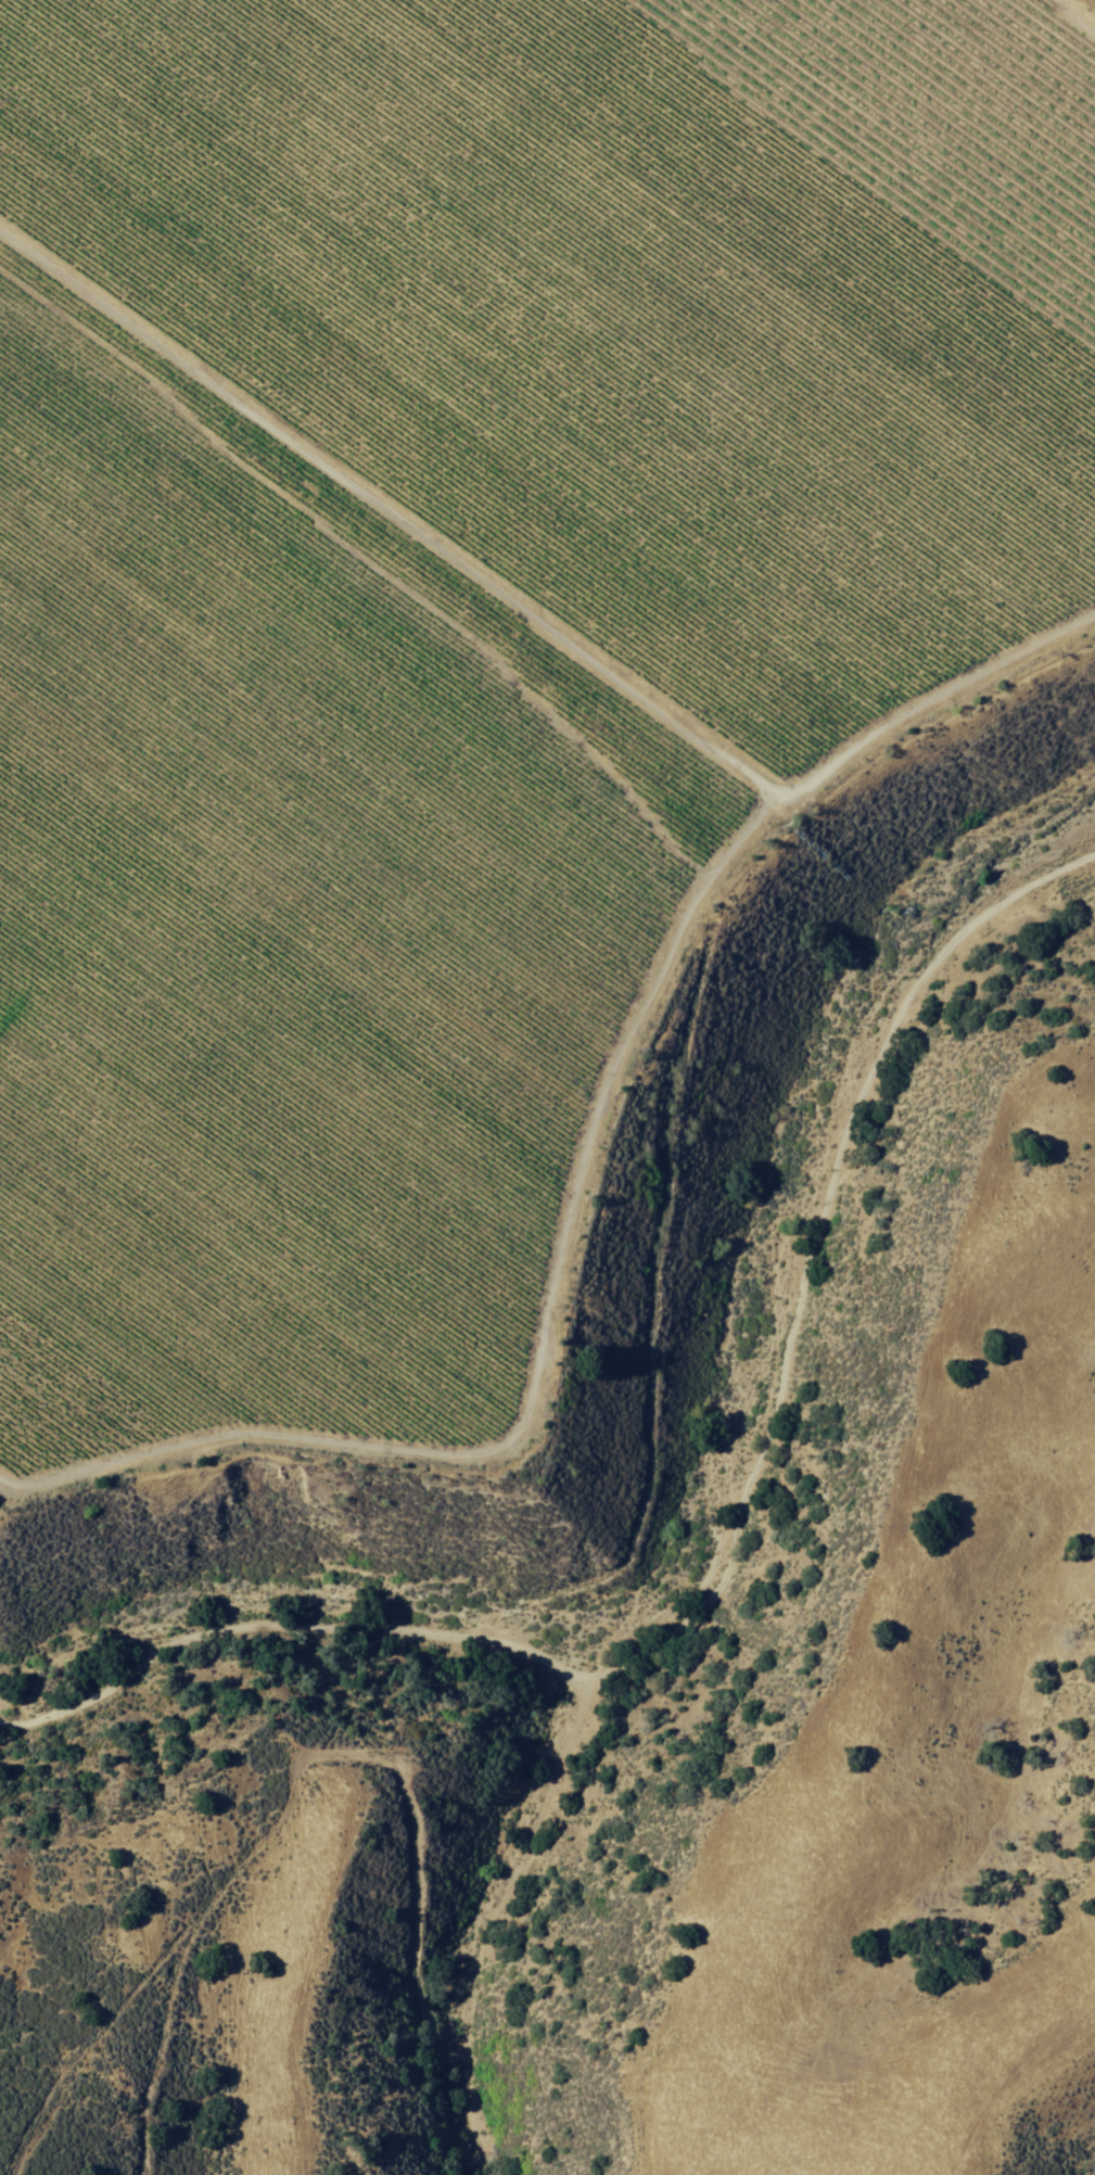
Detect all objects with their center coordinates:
road: (723, 1551)

